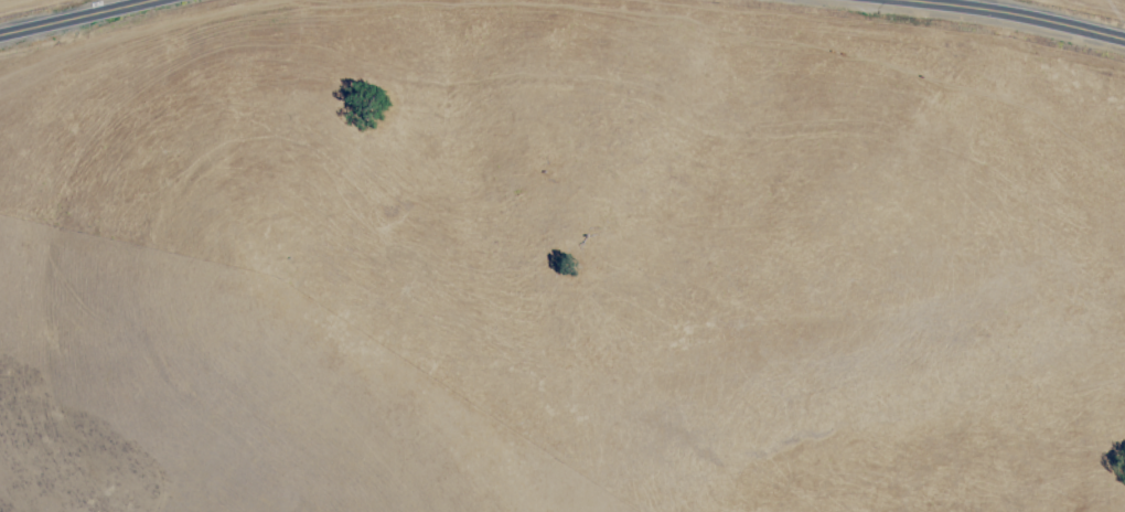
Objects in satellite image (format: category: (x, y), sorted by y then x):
road: (1013, 15)
road: (95, 20)
park: (645, 220)

